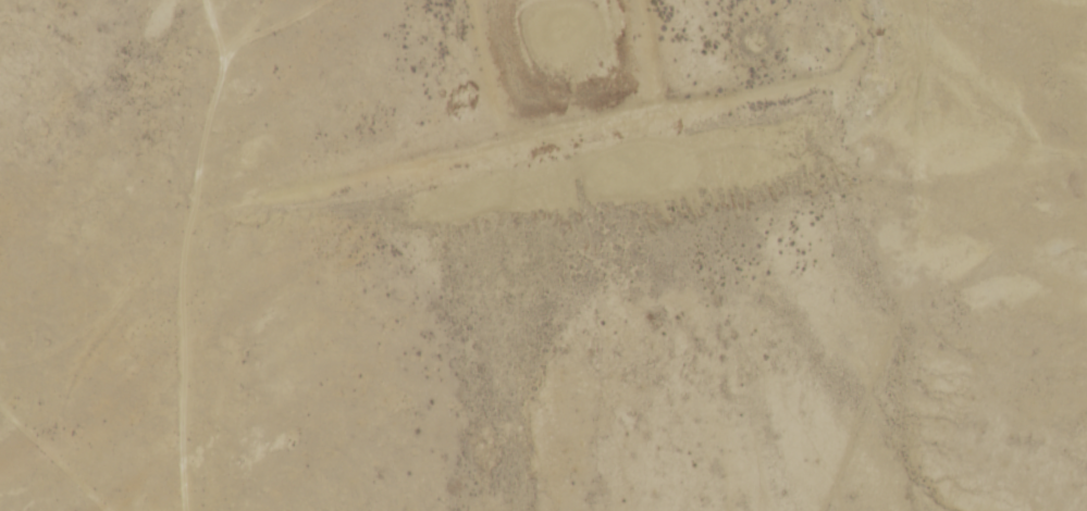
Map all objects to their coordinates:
road: (182, 252)

